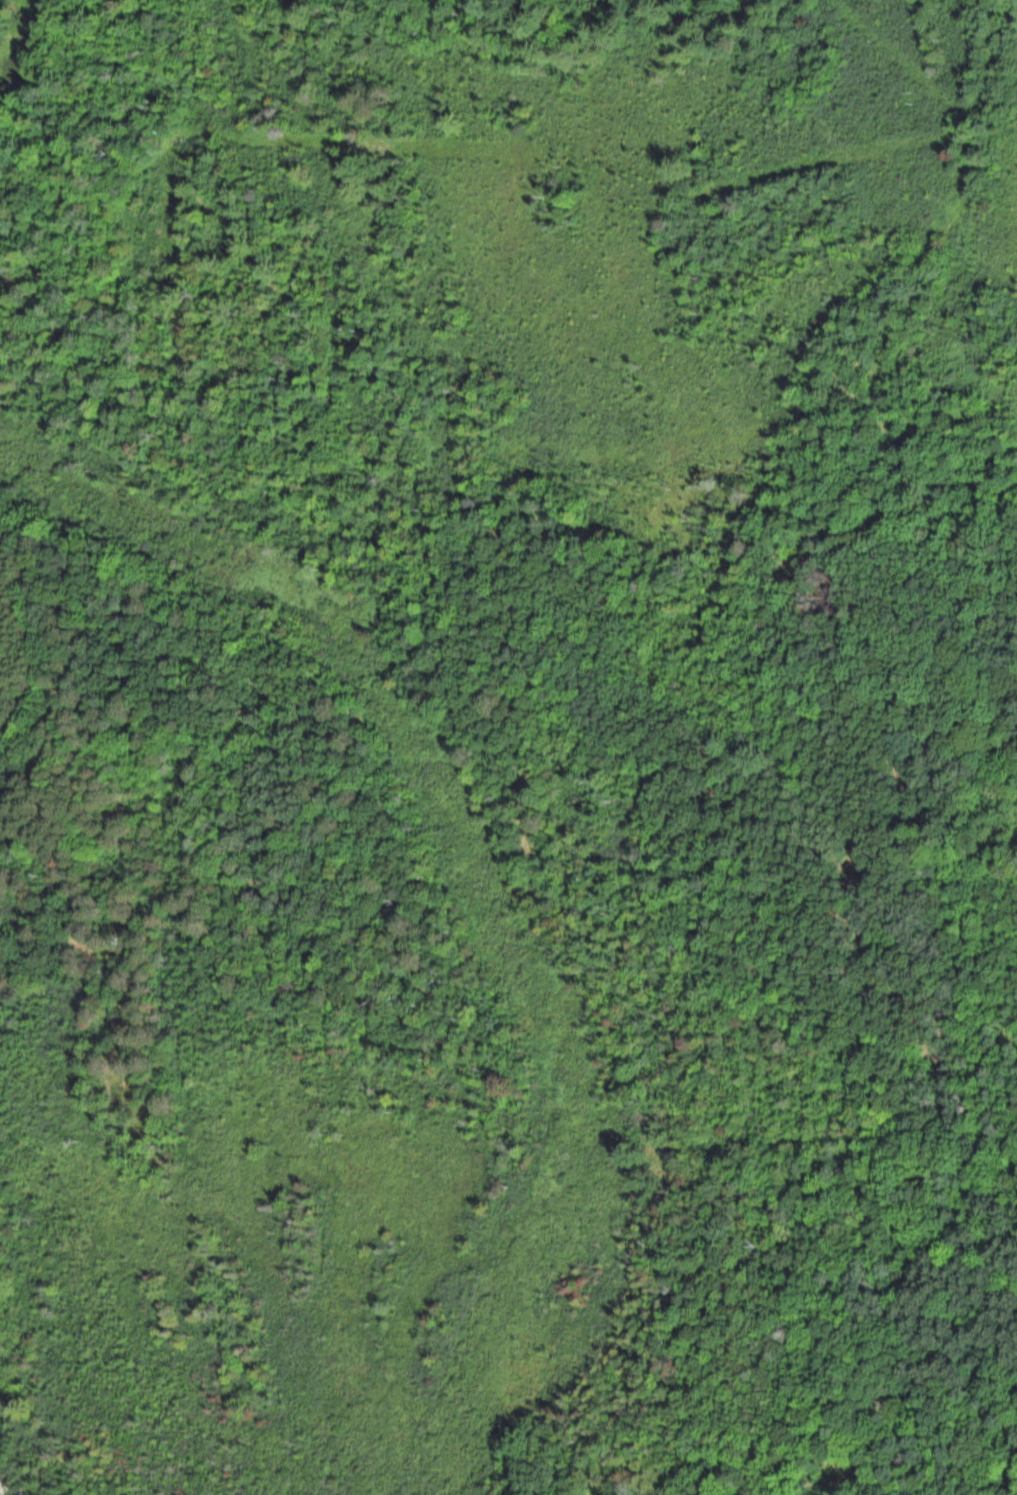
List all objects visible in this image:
road: (5, 1490)

